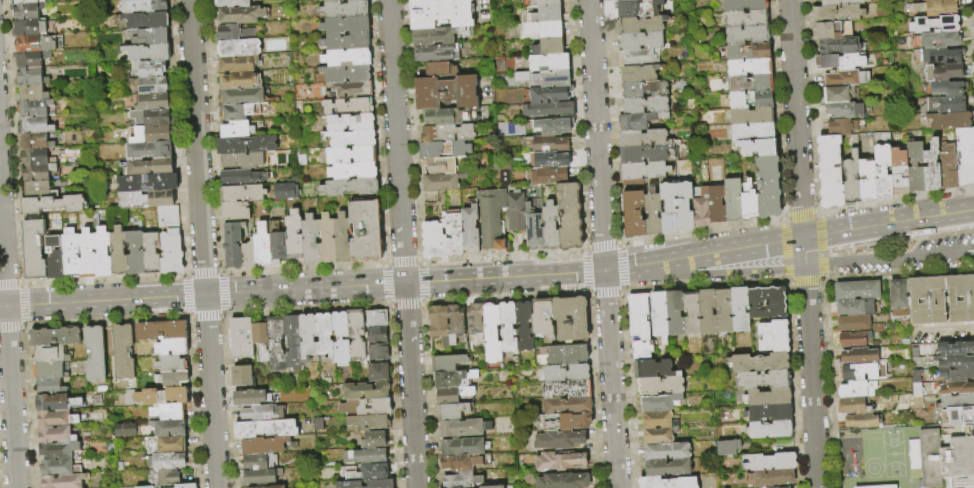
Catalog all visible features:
building: (354, 0)
building: (633, 0)
building: (928, 0)
building: (28, 1)
building: (330, 1)
building: (842, 2)
building: (232, 3)
building: (541, 3)
building: (745, 5)
building: (143, 6)
building: (936, 7)
building: (638, 8)
building: (344, 9)
building: (27, 11)
building: (441, 13)
building: (837, 13)
building: (541, 14)
building: (240, 15)
building: (746, 19)
building: (139, 21)
building: (641, 24)
building: (935, 24)
building: (345, 25)
building: (29, 28)
building: (542, 29)
building: (832, 30)
building: (236, 32)
building: (747, 35)
building: (435, 36)
building: (148, 37)
building: (936, 39)
building: (346, 41)
building: (641, 41)
building: (38, 44)
building: (839, 45)
building: (548, 46)
building: (239, 47)
building: (747, 51)
building: (436, 52)
building: (148, 53)
building: (938, 55)
building: (639, 57)
building: (347, 58)
building: (31, 59)
building: (840, 61)
building: (549, 62)
building: (236, 63)
building: (750, 67)
building: (150, 69)
building: (440, 70)
building: (944, 72)
building: (343, 74)
building: (639, 74)
building: (30, 77)
building: (545, 78)
building: (844, 78)
building: (239, 80)
building: (750, 83)
building: (148, 85)
building: (948, 88)
building: (352, 89)
building: (644, 89)
building: (31, 93)
building: (447, 93)
building: (547, 94)
building: (838, 94)
building: (242, 96)
building: (748, 100)
building: (152, 102)
building: (943, 105)
building: (347, 106)
building: (645, 106)
building: (36, 108)
building: (548, 110)
building: (846, 110)
building: (243, 111)
building: (450, 116)
building: (751, 116)
building: (150, 118)
building: (950, 120)
building: (639, 121)
building: (351, 122)
building: (35, 125)
building: (551, 126)
building: (844, 127)
building: (236, 130)
building: (753, 132)
building: (448, 133)
building: (153, 134)
road: (596, 135)
building: (642, 137)
building: (352, 138)
building: (879, 138)
building: (35, 141)
building: (547, 143)
building: (246, 145)
building: (758, 148)
building: (444, 149)
building: (150, 150)
building: (645, 153)
building: (350, 155)
building: (40, 156)
building: (965, 156)
building: (553, 159)
building: (240, 161)
building: (441, 166)
building: (915, 166)
building: (932, 166)
building: (149, 167)
building: (948, 168)
building: (352, 171)
building: (643, 171)
building: (831, 171)
building: (883, 171)
building: (899, 171)
building: (39, 172)
building: (547, 175)
building: (242, 177)
building: (504, 178)
building: (851, 178)
building: (295, 179)
building: (867, 179)
building: (443, 181)
building: (148, 183)
building: (767, 186)
building: (350, 187)
building: (39, 189)
building: (285, 191)
building: (242, 193)
building: (147, 199)
building: (748, 200)
building: (733, 201)
building: (52, 204)
building: (717, 205)
building: (701, 207)
building: (676, 208)
building: (236, 211)
building: (516, 211)
road: (960, 211)
building: (634, 214)
building: (570, 215)
building: (653, 215)
road: (922, 218)
building: (169, 219)
building: (490, 224)
building: (533, 225)
building: (551, 226)
building: (470, 230)
road: (850, 230)
building: (366, 231)
building: (454, 235)
building: (294, 237)
building: (342, 238)
building: (327, 239)
building: (310, 240)
building: (434, 240)
building: (277, 243)
road: (201, 244)
building: (262, 244)
road: (401, 244)
road: (803, 244)
building: (233, 245)
building: (34, 247)
road: (909, 249)
building: (119, 252)
building: (103, 253)
building: (135, 253)
building: (151, 253)
building: (70, 254)
building: (87, 254)
building: (171, 254)
building: (249, 254)
road: (703, 255)
building: (54, 258)
road: (972, 258)
road: (939, 260)
road: (856, 264)
traffic signals: (604, 271)
road: (743, 273)
road: (302, 289)
building: (857, 290)
traffic signals: (205, 295)
building: (898, 297)
building: (941, 300)
building: (766, 303)
building: (854, 307)
building: (740, 310)
building: (707, 311)
building: (724, 311)
building: (676, 313)
building: (692, 314)
building: (659, 316)
building: (543, 317)
building: (639, 317)
building: (377, 318)
building: (475, 318)
building: (571, 318)
building: (455, 322)
building: (853, 323)
building: (439, 324)
building: (524, 326)
building: (508, 327)
road: (945, 328)
building: (161, 330)
building: (491, 333)
building: (357, 335)
building: (377, 335)
building: (325, 336)
building: (773, 336)
building: (55, 337)
building: (308, 337)
building: (241, 338)
building: (341, 338)
building: (261, 339)
building: (854, 340)
building: (292, 342)
road: (8, 344)
building: (275, 344)
building: (173, 347)
building: (956, 348)
building: (641, 350)
building: (123, 352)
building: (379, 352)
building: (95, 353)
building: (51, 354)
building: (568, 354)
building: (859, 357)
building: (447, 362)
building: (957, 362)
building: (759, 363)
building: (172, 364)
building: (654, 369)
building: (51, 370)
building: (567, 372)
building: (858, 372)
building: (379, 373)
building: (956, 374)
building: (242, 376)
building: (452, 378)
building: (171, 379)
road: (610, 379)
building: (764, 380)
building: (661, 385)
building: (50, 387)
building: (957, 388)
building: (567, 389)
building: (857, 389)
building: (917, 390)
building: (366, 391)
building: (453, 394)
building: (162, 396)
building: (769, 397)
building: (251, 398)
building: (957, 401)
building: (56, 402)
building: (657, 403)
building: (568, 405)
building: (352, 406)
building: (853, 406)
building: (170, 411)
building: (453, 411)
building: (769, 413)
building: (263, 414)
building: (961, 415)
building: (56, 419)
building: (571, 420)
building: (369, 423)
building: (860, 423)
building: (463, 427)
building: (658, 427)
building: (169, 428)
building: (266, 429)
building: (770, 429)
building: (125, 430)
building: (56, 435)
building: (560, 439)
building: (375, 440)
building: (167, 445)
building: (263, 446)
building: (464, 446)
building: (728, 447)
building: (59, 451)
building: (665, 452)
building: (912, 454)
building: (365, 456)
building: (944, 460)
building: (166, 461)
building: (560, 461)
building: (259, 462)
building: (460, 462)
building: (772, 462)
building: (59, 467)
building: (666, 468)
building: (371, 472)
building: (260, 476)
building: (163, 477)
building: (773, 478)
building: (461, 480)
building: (564, 480)
building: (63, 481)
building: (667, 482)
building: (367, 484)
building: (187, 486)
building: (268, 486)
building: (492, 486)
building: (145, 487)
building: (455, 487)
building: (773, 487)
building: (786, 487)

